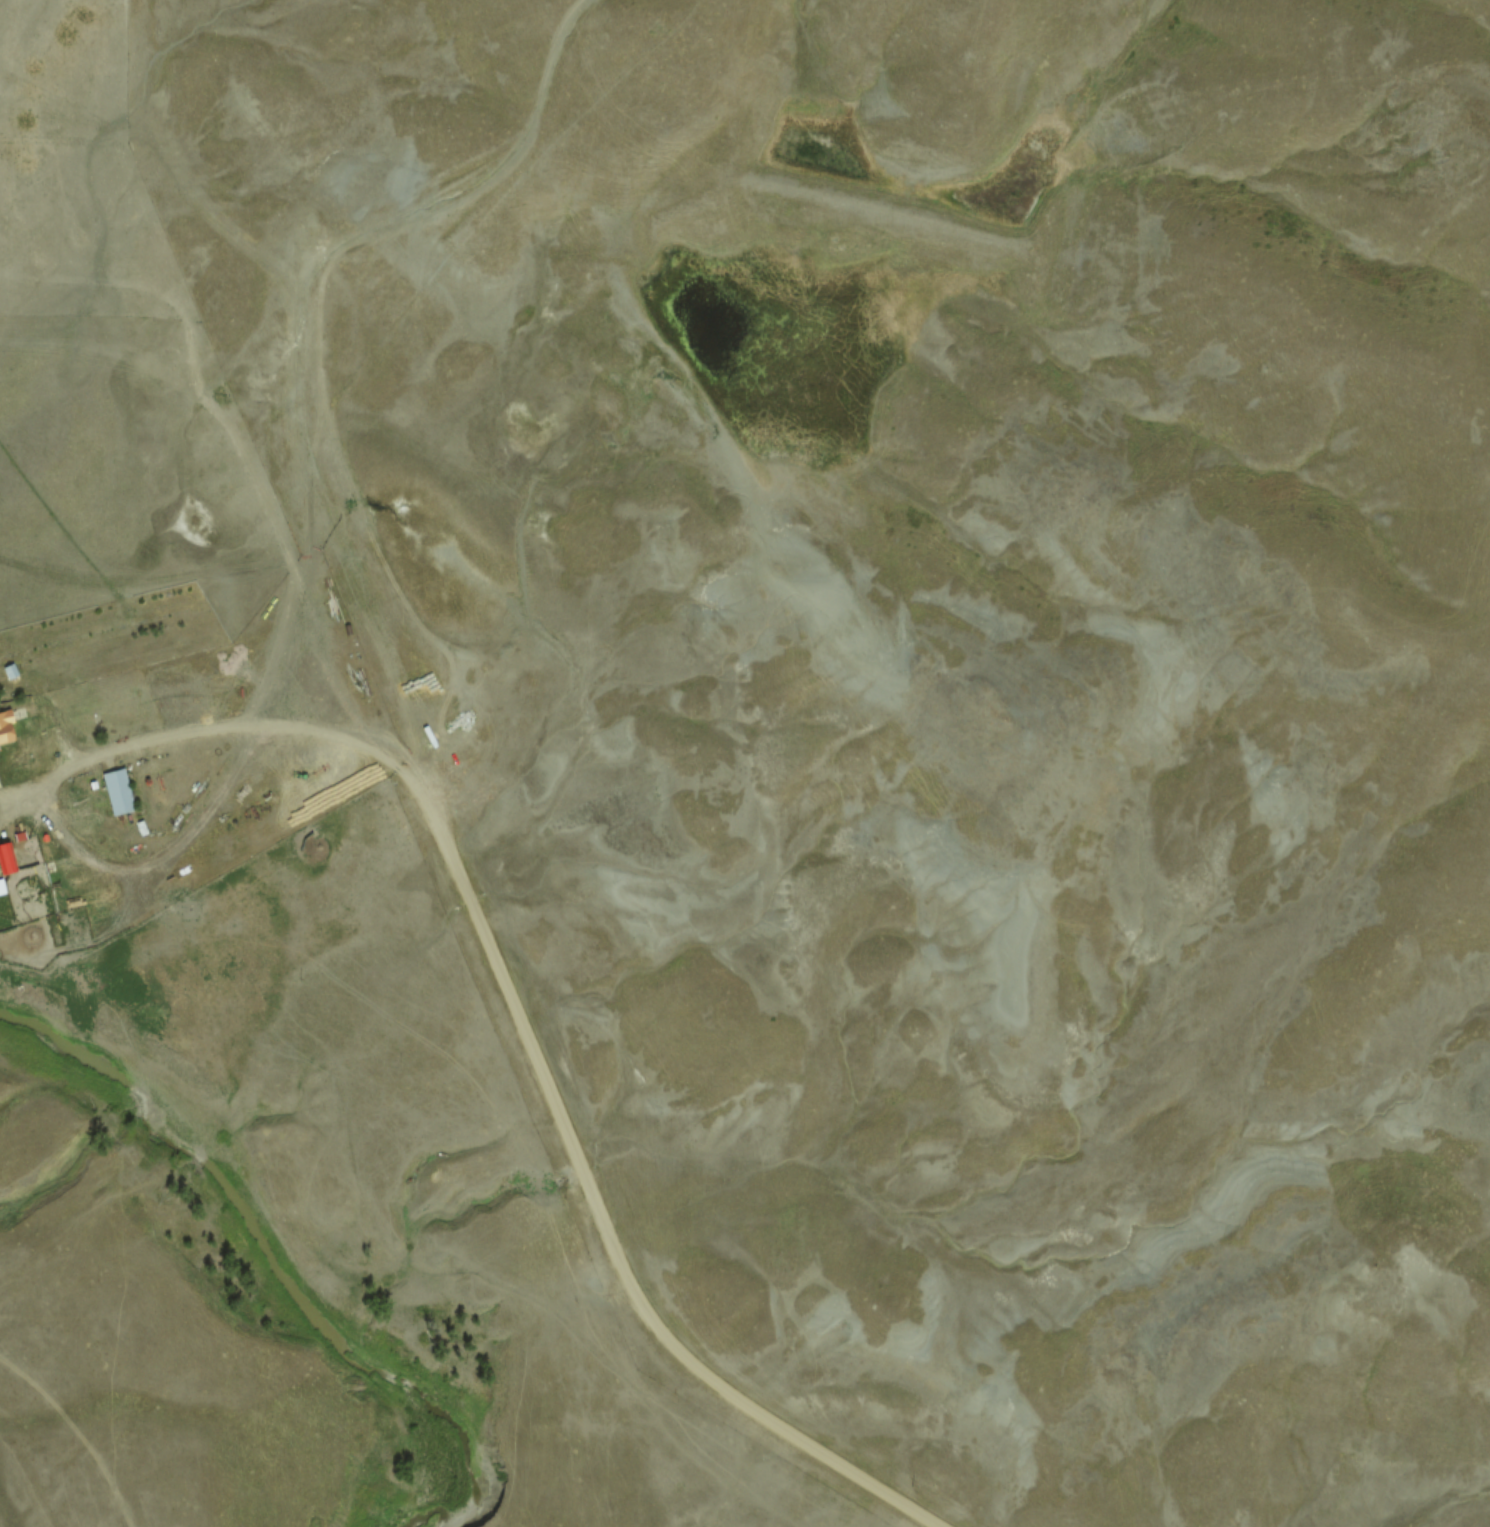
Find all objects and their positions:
road: (314, 329)
building: (4, 728)
road: (240, 736)
building: (114, 791)
building: (4, 861)
road: (598, 1208)

